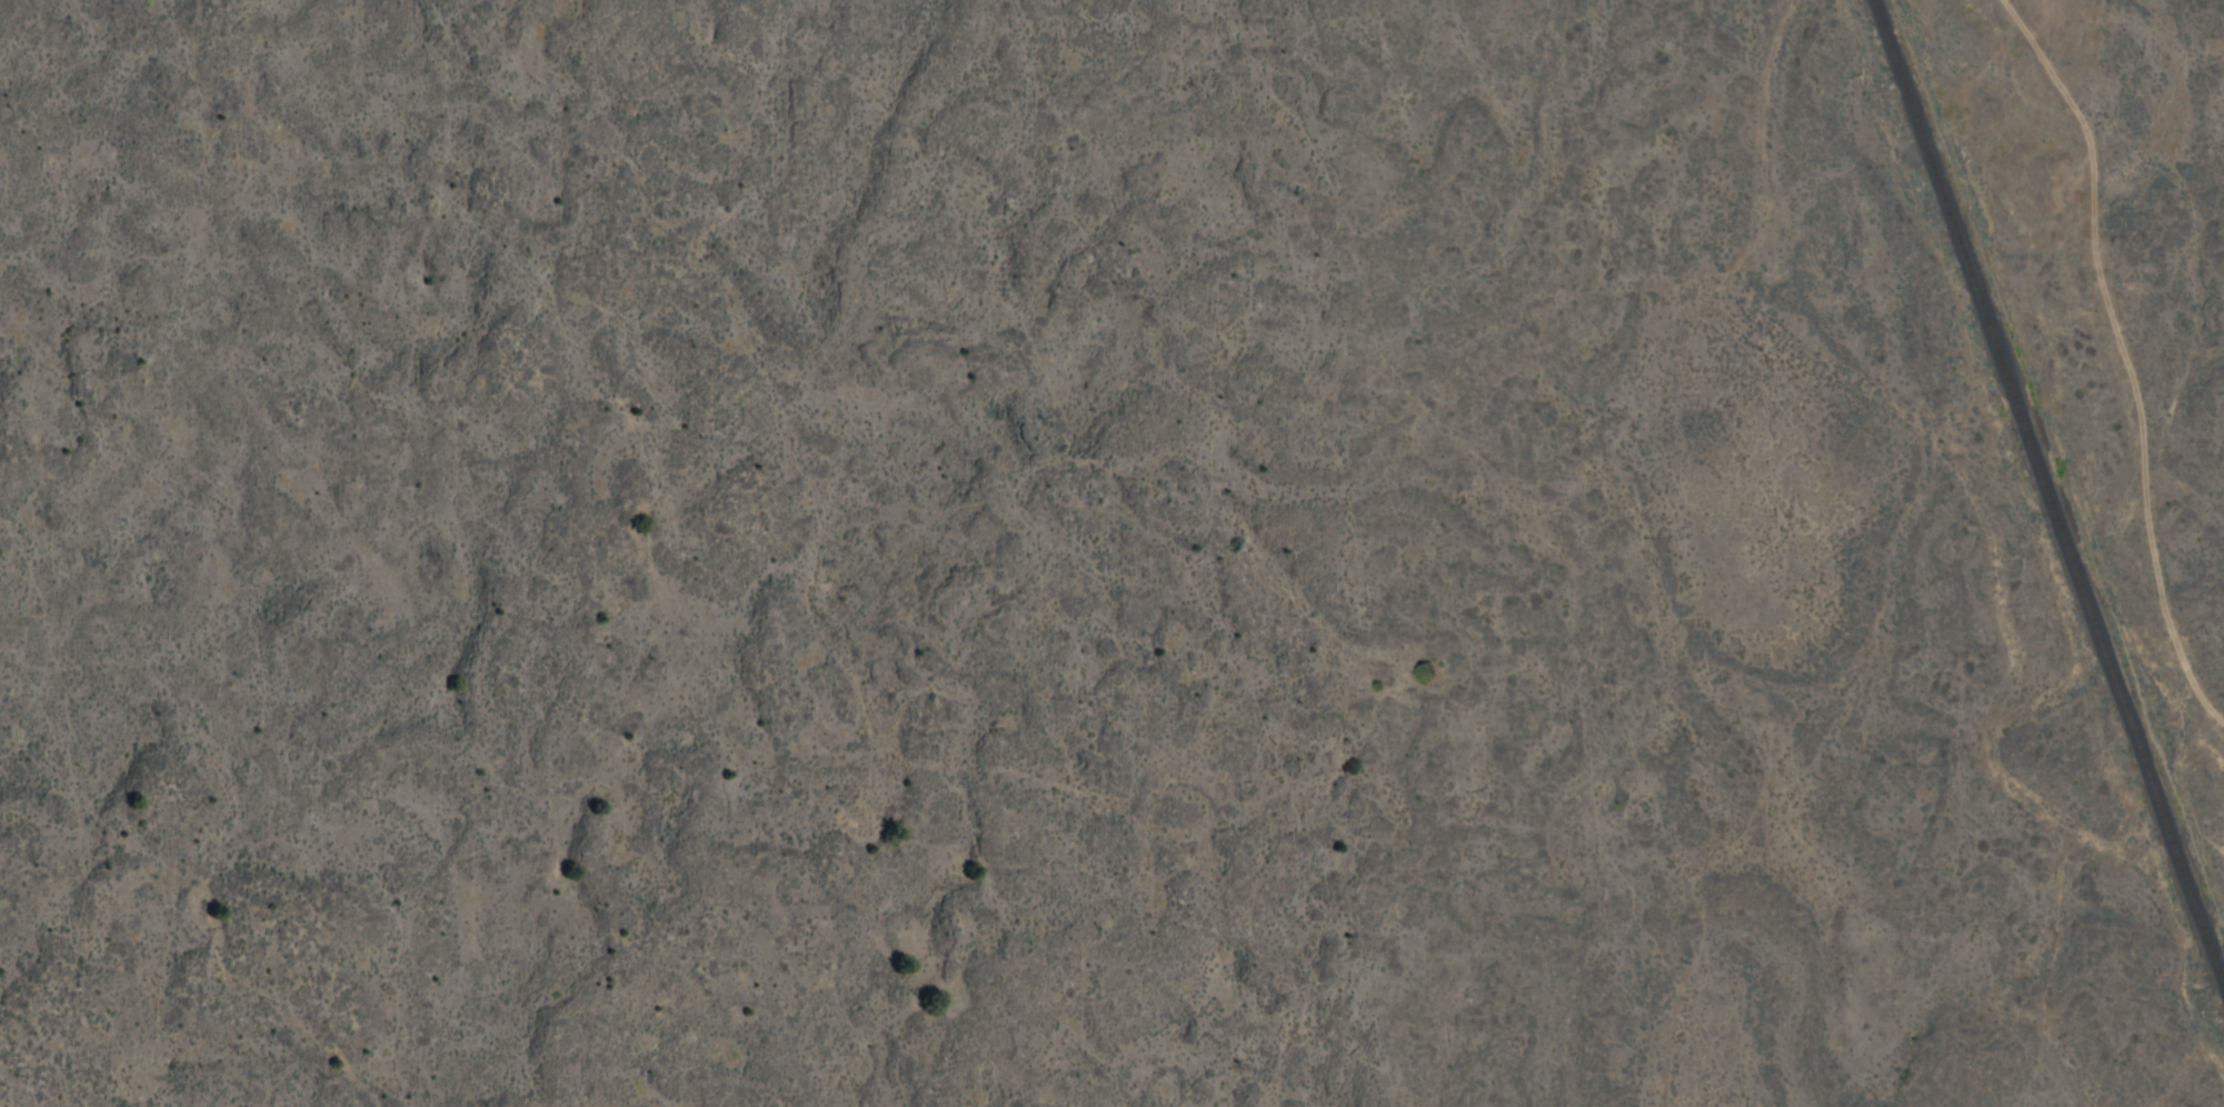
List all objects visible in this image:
road: (2124, 357)
railway: (2047, 497)

